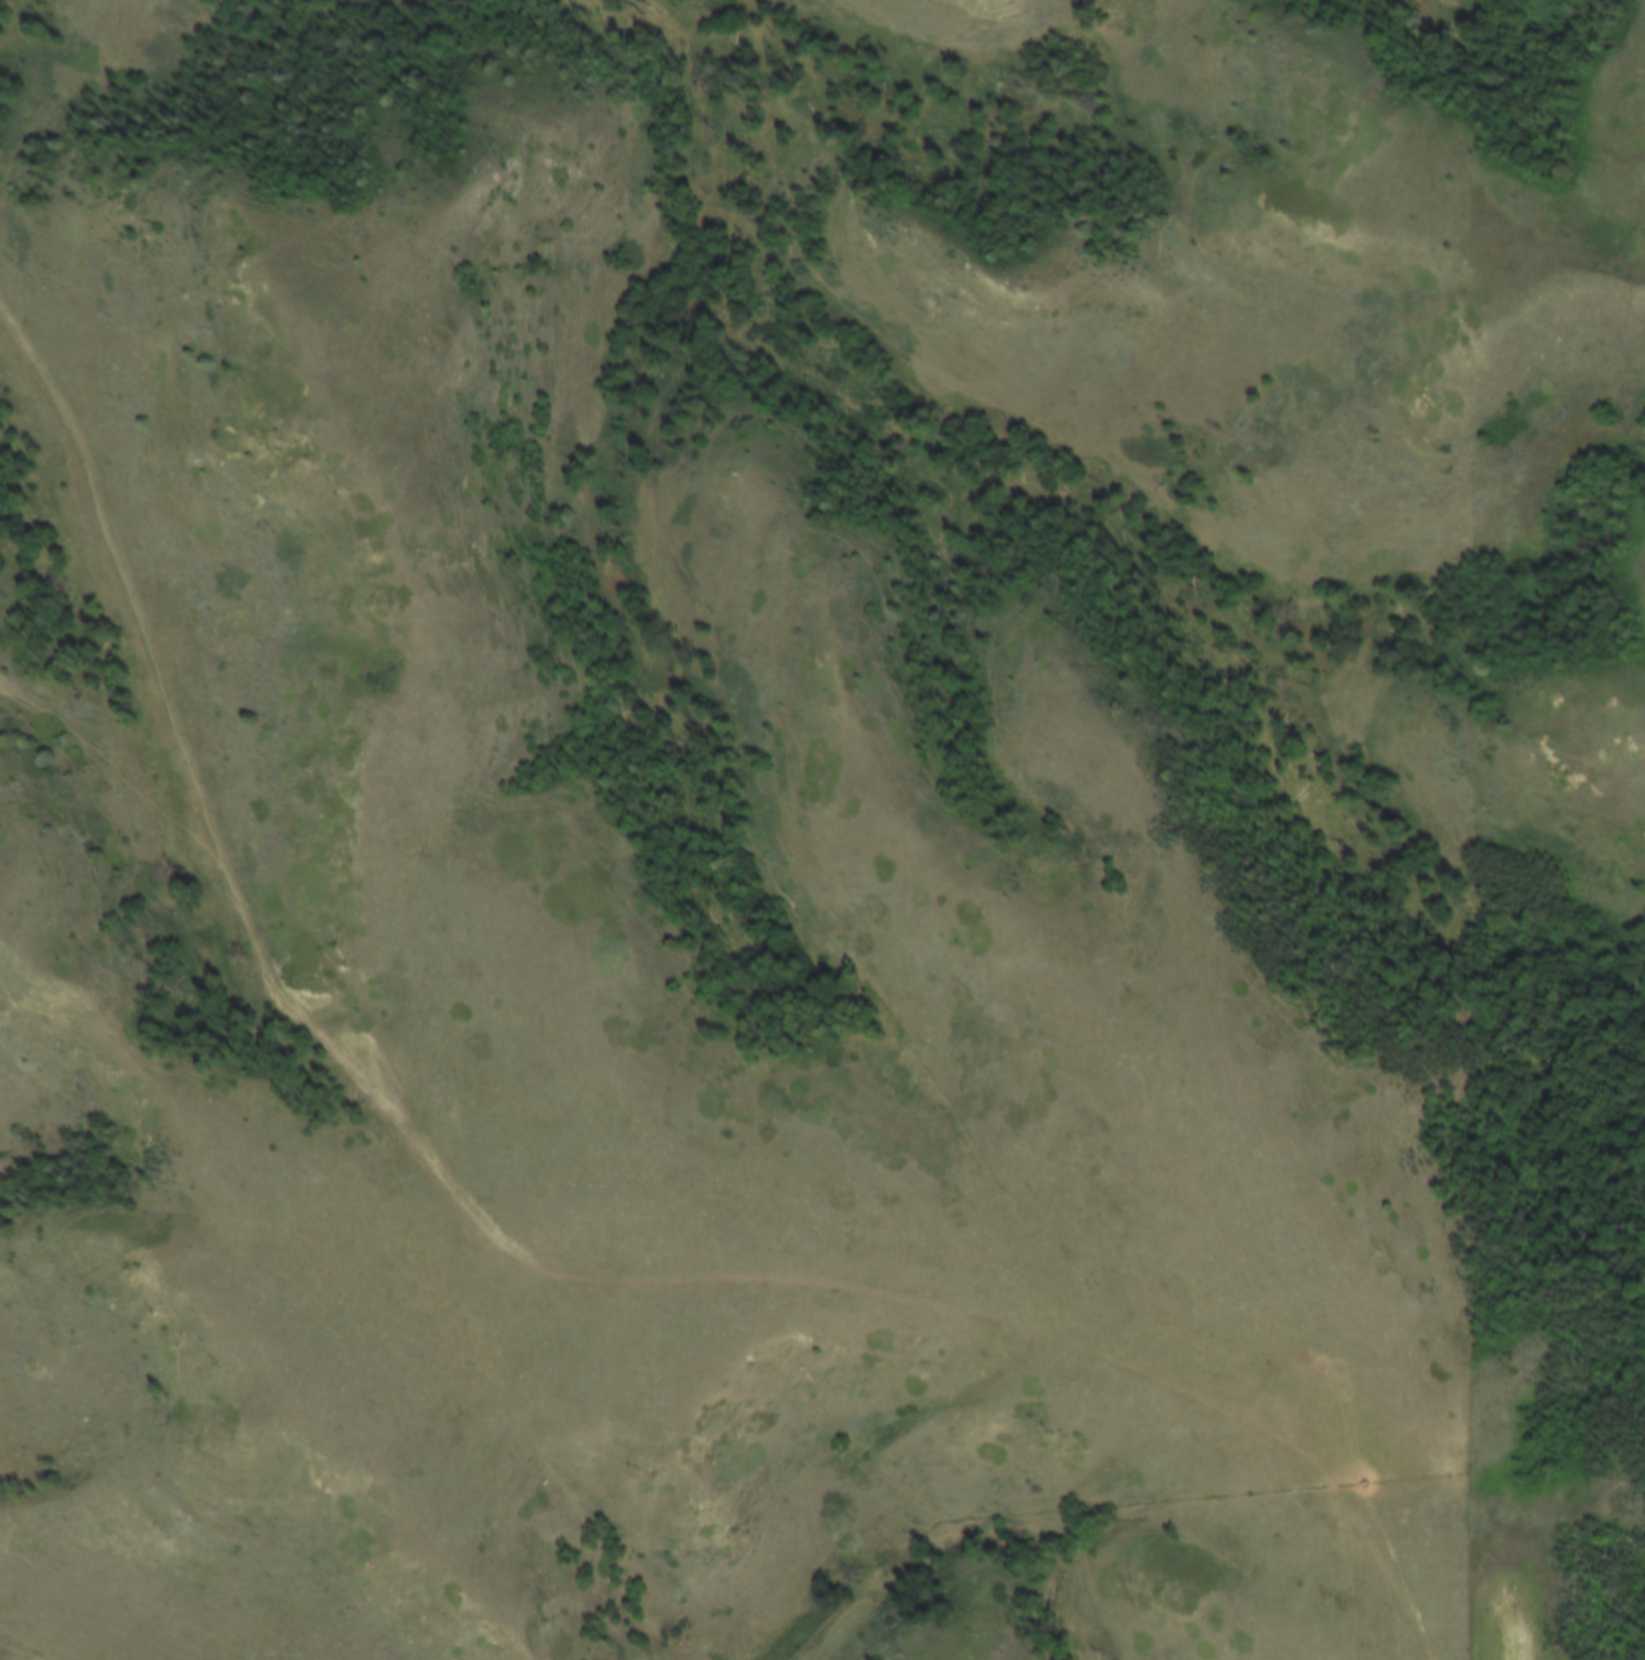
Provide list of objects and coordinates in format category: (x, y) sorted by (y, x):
road: (144, 630)

